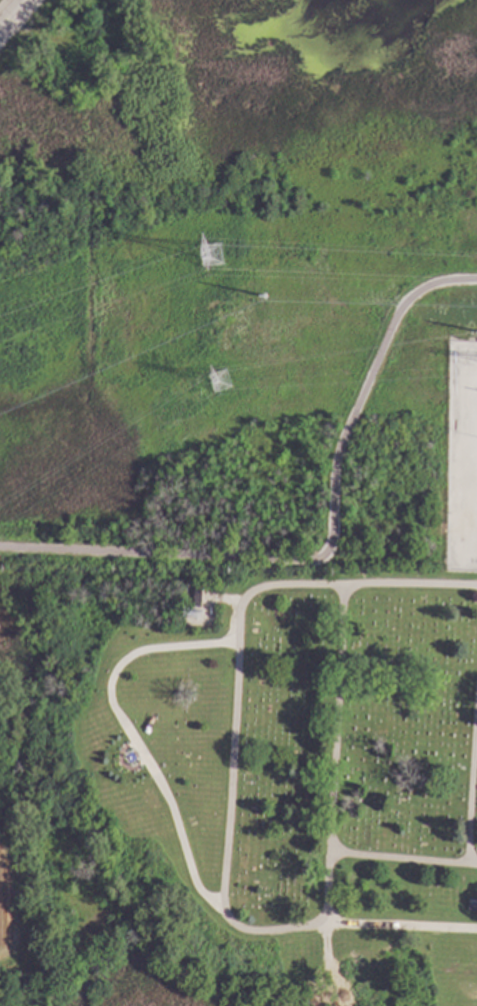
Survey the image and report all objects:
road: (11, 13)
power tower: (213, 259)
power tower: (262, 296)
power tower: (219, 382)
power substation: (462, 459)
road: (327, 543)
road: (349, 561)
building: (199, 596)
park: (355, 757)
road: (228, 767)
building: (474, 905)

